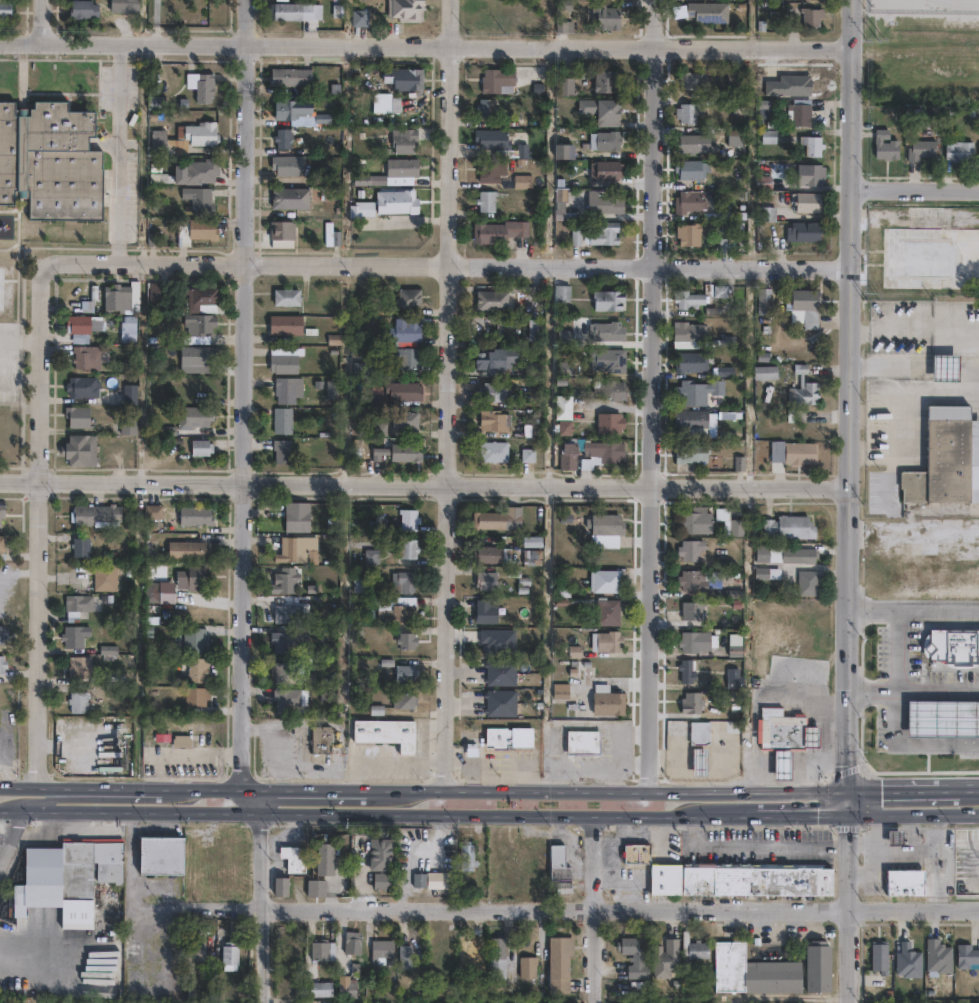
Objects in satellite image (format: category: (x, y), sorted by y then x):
building: (124, 5)
power substation: (925, 6)
building: (4, 10)
building: (82, 10)
building: (405, 10)
building: (287, 11)
building: (709, 12)
building: (604, 17)
building: (812, 17)
building: (359, 18)
road: (40, 22)
building: (565, 27)
road: (425, 45)
building: (290, 77)
building: (734, 78)
building: (403, 79)
building: (498, 81)
building: (605, 81)
building: (693, 81)
building: (566, 86)
building: (203, 88)
building: (155, 103)
building: (382, 103)
building: (740, 107)
building: (487, 108)
building: (608, 111)
building: (298, 113)
building: (688, 113)
building: (799, 113)
building: (199, 134)
building: (768, 137)
building: (282, 139)
building: (491, 139)
building: (403, 141)
building: (605, 141)
building: (157, 144)
building: (694, 145)
building: (812, 146)
building: (885, 146)
building: (564, 150)
building: (922, 150)
building: (959, 151)
building: (514, 153)
road: (126, 154)
building: (50, 159)
building: (285, 166)
building: (690, 169)
building: (489, 170)
building: (200, 171)
building: (607, 171)
building: (389, 172)
building: (810, 175)
building: (522, 182)
building: (764, 183)
road: (915, 188)
building: (290, 199)
building: (198, 200)
building: (397, 202)
building: (485, 202)
building: (604, 202)
building: (688, 203)
building: (809, 203)
building: (360, 211)
building: (767, 214)
building: (928, 218)
building: (202, 230)
building: (280, 231)
building: (499, 232)
building: (805, 232)
building: (693, 234)
building: (332, 235)
building: (602, 235)
building: (727, 245)
building: (932, 259)
road: (447, 266)
building: (93, 293)
building: (156, 294)
building: (134, 297)
building: (286, 298)
building: (116, 299)
building: (408, 299)
building: (687, 300)
building: (201, 301)
building: (491, 301)
building: (607, 301)
building: (764, 301)
building: (804, 306)
building: (285, 326)
building: (81, 327)
building: (197, 328)
road: (915, 329)
building: (127, 331)
building: (407, 332)
building: (608, 332)
building: (688, 332)
road: (19, 339)
building: (85, 358)
building: (402, 359)
building: (195, 360)
building: (284, 360)
building: (487, 360)
building: (607, 360)
building: (691, 363)
road: (242, 365)
road: (916, 366)
road: (945, 366)
road: (968, 366)
building: (362, 369)
building: (944, 369)
building: (534, 370)
building: (765, 373)
road: (19, 383)
building: (82, 387)
building: (287, 390)
building: (609, 390)
building: (803, 390)
building: (403, 392)
building: (495, 393)
building: (699, 393)
road: (451, 394)
road: (649, 394)
road: (850, 394)
building: (129, 395)
building: (563, 408)
road: (900, 408)
building: (76, 417)
building: (193, 417)
building: (282, 421)
building: (492, 422)
building: (694, 423)
building: (403, 424)
building: (609, 424)
building: (127, 427)
building: (377, 428)
building: (565, 429)
building: (533, 431)
building: (200, 449)
building: (78, 452)
building: (281, 452)
building: (399, 452)
building: (494, 452)
building: (692, 454)
building: (799, 454)
building: (528, 455)
building: (600, 455)
building: (567, 458)
building: (946, 460)
road: (891, 480)
road: (425, 486)
building: (2, 508)
building: (153, 513)
building: (94, 515)
building: (194, 517)
building: (296, 518)
building: (495, 520)
building: (408, 521)
building: (697, 522)
building: (730, 523)
building: (605, 526)
road: (38, 528)
building: (789, 528)
building: (1, 545)
building: (80, 549)
building: (407, 550)
building: (186, 551)
building: (690, 551)
building: (293, 552)
building: (370, 553)
building: (770, 555)
building: (491, 556)
building: (802, 557)
road: (20, 572)
building: (767, 573)
road: (2, 578)
building: (105, 578)
building: (193, 578)
building: (283, 581)
building: (486, 582)
building: (605, 582)
building: (692, 582)
building: (403, 584)
building: (807, 584)
road: (2, 586)
building: (360, 586)
building: (151, 593)
building: (76, 606)
road: (914, 609)
building: (692, 612)
building: (399, 613)
building: (485, 614)
building: (607, 614)
building: (287, 615)
building: (3, 631)
building: (74, 635)
building: (194, 639)
building: (406, 641)
building: (693, 641)
building: (284, 642)
building: (608, 642)
building: (951, 646)
building: (2, 662)
building: (79, 667)
building: (196, 670)
building: (687, 671)
building: (404, 672)
building: (500, 672)
building: (288, 674)
building: (734, 680)
road: (873, 690)
road: (938, 690)
building: (561, 693)
building: (195, 696)
building: (281, 698)
building: (403, 700)
building: (607, 701)
building: (77, 702)
building: (500, 703)
building: (692, 703)
road: (754, 704)
building: (943, 716)
gas station: (943, 716)
road: (897, 717)
road: (822, 730)
building: (384, 733)
building: (700, 733)
building: (788, 733)
building: (508, 737)
building: (320, 740)
building: (181, 741)
building: (581, 743)
road: (239, 760)
road: (388, 761)
building: (698, 761)
building: (781, 764)
gas station: (781, 764)
road: (808, 769)
road: (971, 785)
road: (924, 787)
road: (119, 789)
road: (302, 789)
road: (607, 789)
traffic signals: (849, 789)
road: (867, 789)
road: (90, 799)
road: (249, 800)
road: (849, 800)
road: (108, 811)
road: (932, 811)
road: (238, 812)
road: (508, 812)
road: (802, 812)
traffic signals: (849, 812)
road: (867, 812)
road: (9, 830)
building: (894, 838)
gas station: (894, 838)
road: (753, 846)
building: (637, 853)
building: (226, 854)
building: (508, 854)
building: (381, 855)
building: (159, 856)
building: (467, 857)
building: (293, 858)
building: (324, 859)
building: (538, 860)
building: (558, 863)
building: (69, 875)
building: (430, 880)
building: (738, 880)
building: (383, 881)
building: (904, 883)
building: (279, 886)
building: (315, 888)
road: (555, 906)
road: (263, 907)
road: (596, 907)
road: (849, 907)
building: (351, 943)
building: (322, 950)
building: (698, 950)
building: (381, 951)
building: (195, 955)
building: (469, 955)
building: (230, 956)
building: (966, 956)
building: (404, 957)
building: (938, 957)
building: (498, 958)
building: (634, 958)
building: (880, 958)
building: (666, 959)
building: (908, 962)
building: (559, 964)
building: (527, 967)
building: (817, 967)
building: (752, 972)
building: (346, 987)
building: (319, 989)

